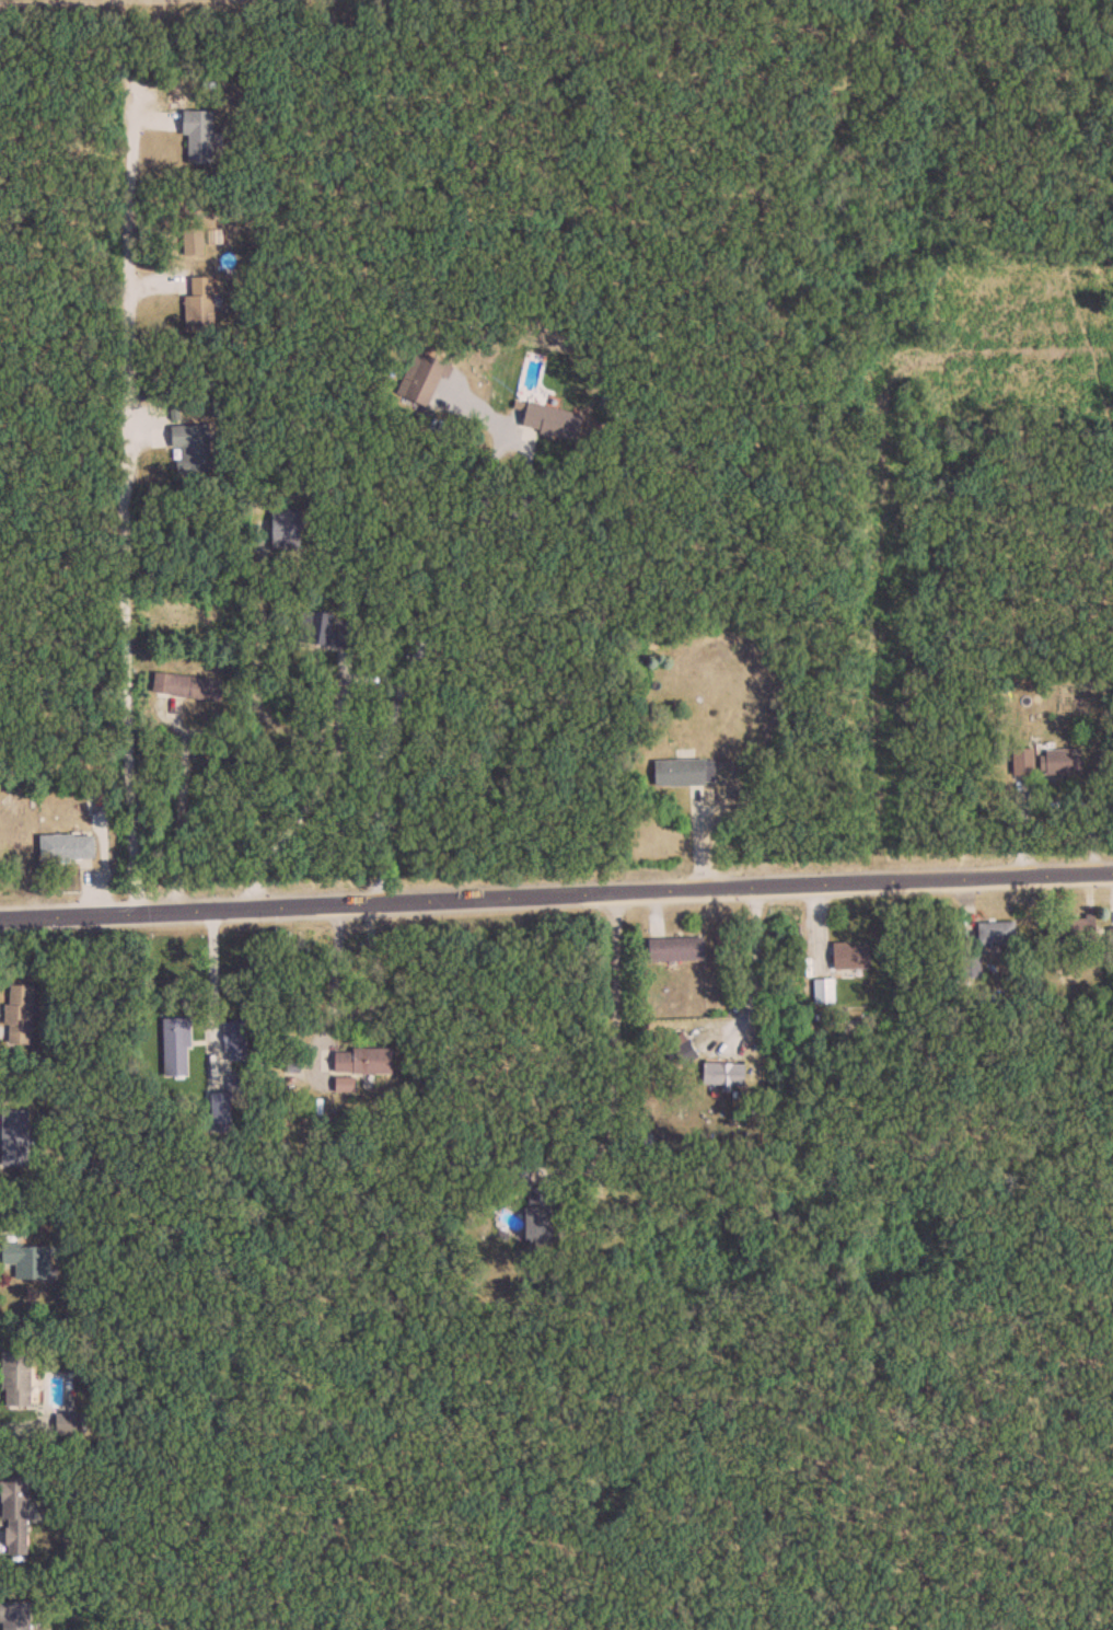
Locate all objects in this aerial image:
building: (199, 136)
building: (201, 302)
building: (424, 378)
building: (554, 420)
building: (193, 448)
road: (136, 497)
building: (288, 528)
building: (327, 632)
road: (404, 680)
building: (189, 686)
building: (1024, 762)
building: (1063, 762)
building: (686, 773)
road: (314, 789)
road: (181, 806)
building: (68, 846)
road: (556, 894)
building: (1078, 929)
building: (997, 932)
building: (1111, 939)
building: (677, 948)
building: (853, 955)
building: (972, 964)
building: (824, 989)
road: (353, 1010)
building: (20, 1014)
building: (236, 1040)
building: (177, 1047)
building: (686, 1050)
road: (602, 1052)
building: (366, 1060)
building: (726, 1073)
building: (221, 1132)
building: (15, 1136)
building: (542, 1216)
building: (30, 1260)
building: (19, 1378)
building: (16, 1515)
building: (18, 1615)

